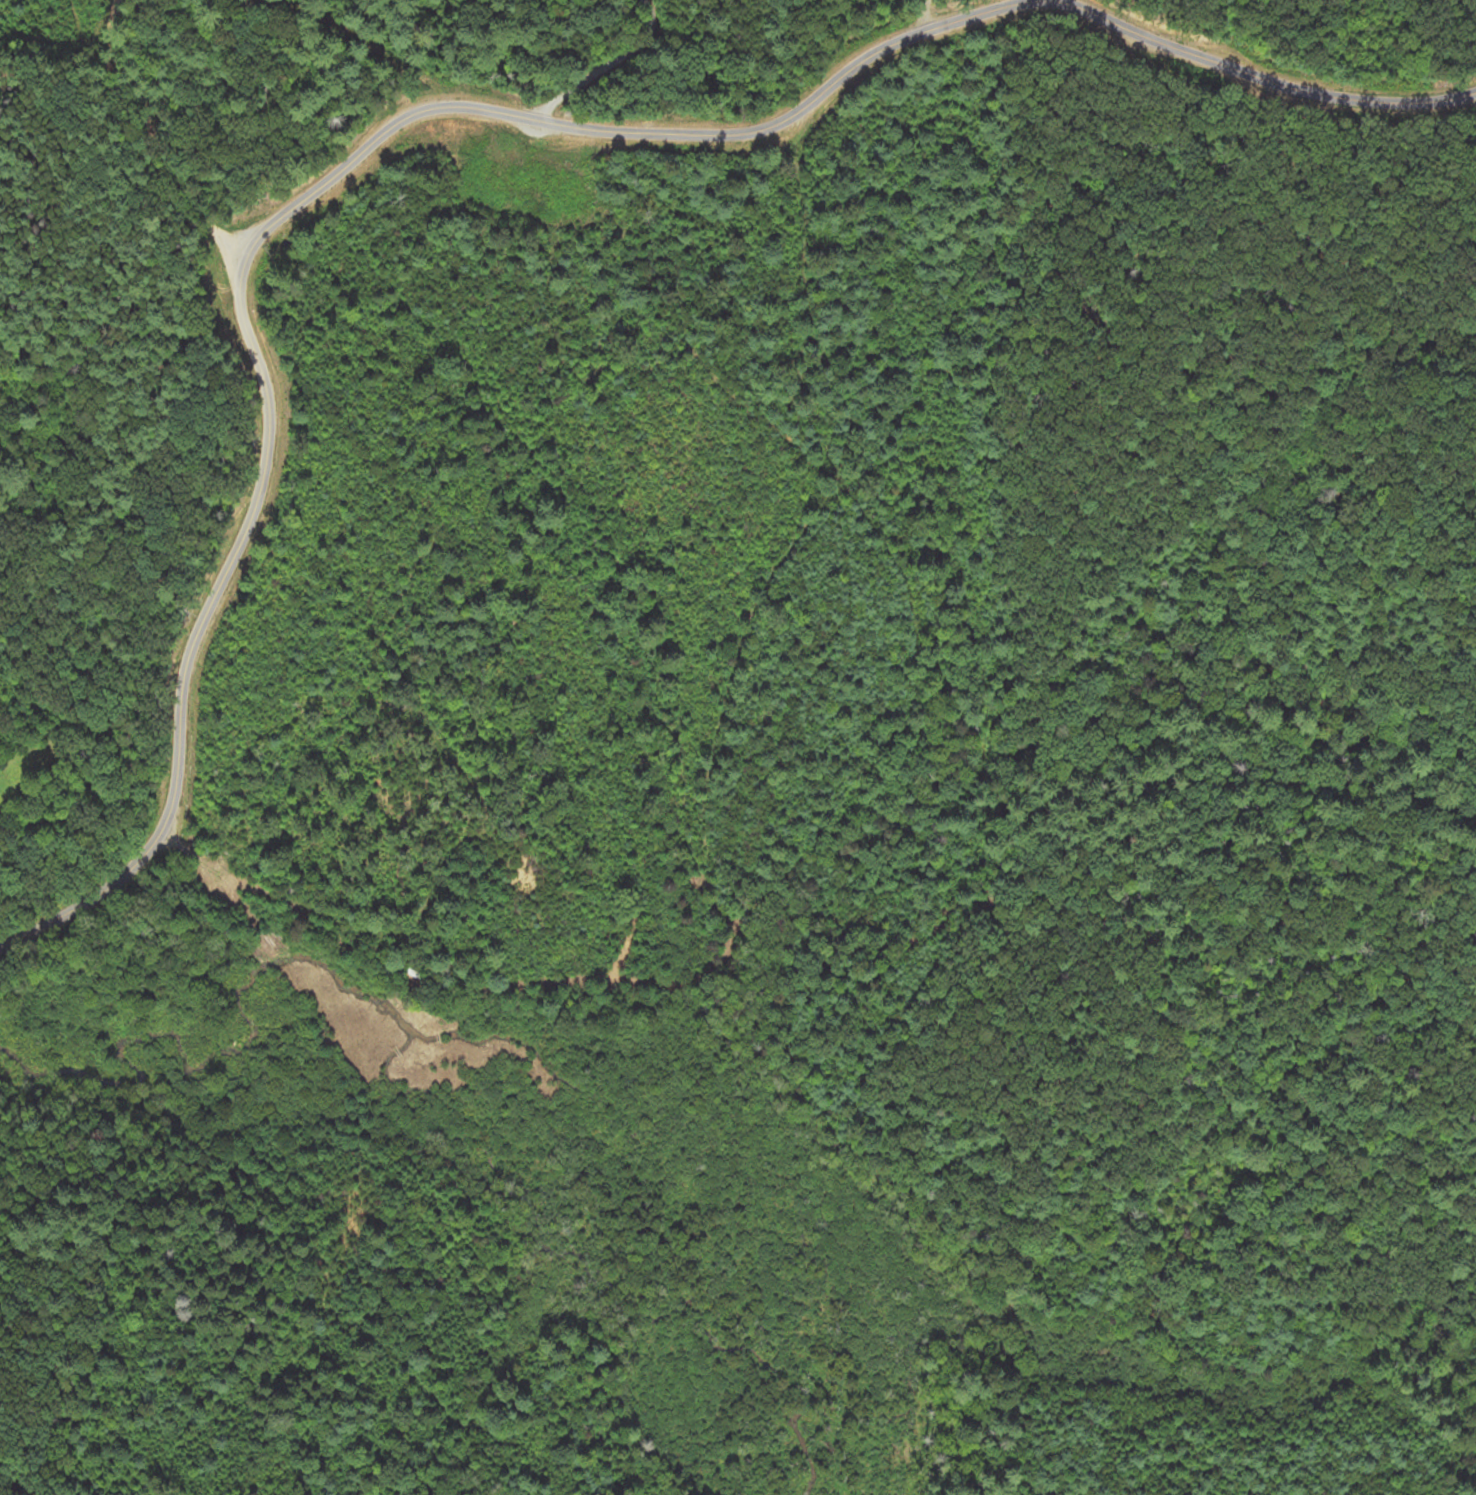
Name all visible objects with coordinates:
road: (924, 10)
road: (592, 58)
road: (1275, 69)
road: (606, 113)
road: (138, 141)
road: (196, 632)

